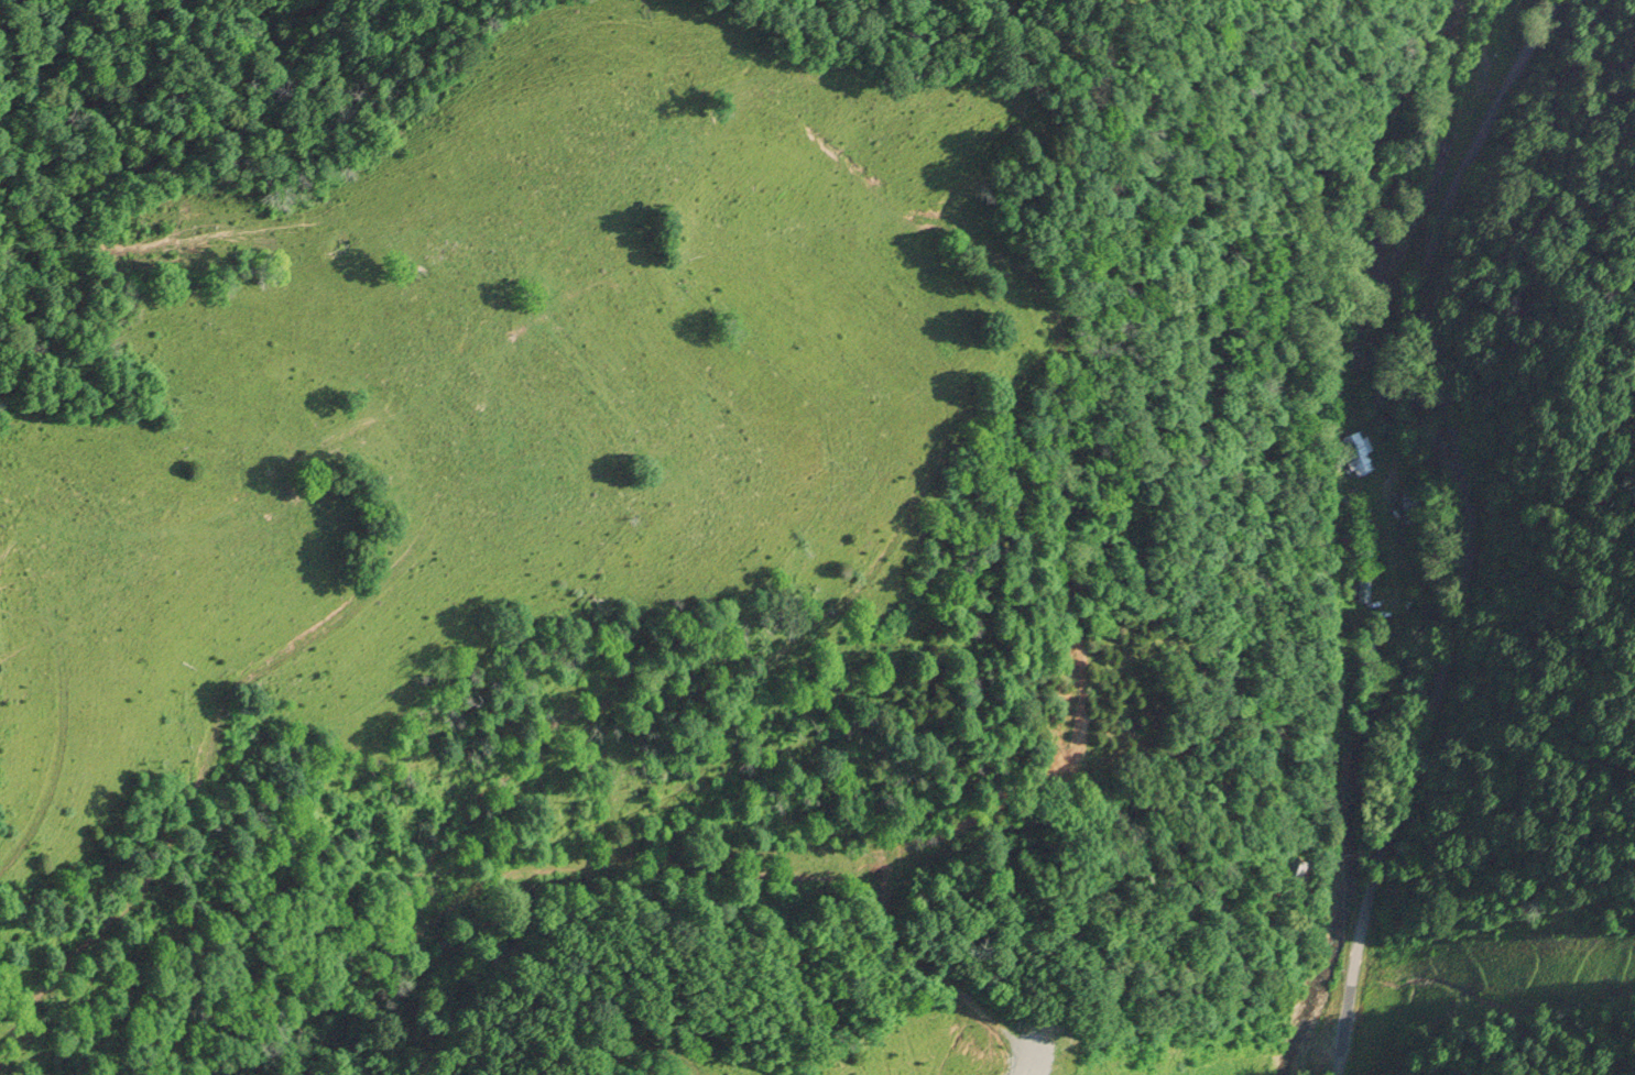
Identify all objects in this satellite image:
road: (1436, 371)
road: (1413, 377)
building: (1358, 456)
road: (1394, 481)
building: (1359, 504)
road: (1467, 526)
building: (1364, 585)
building: (1296, 870)

